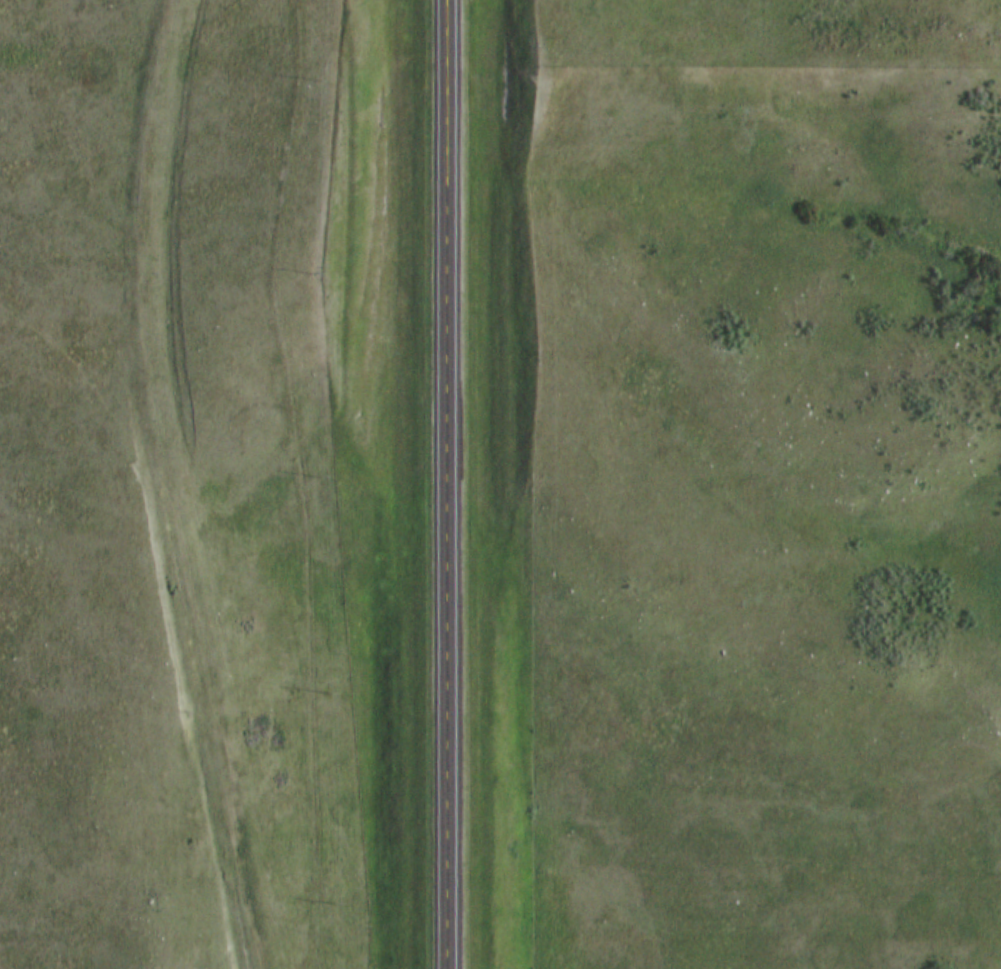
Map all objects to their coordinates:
road: (450, 484)

